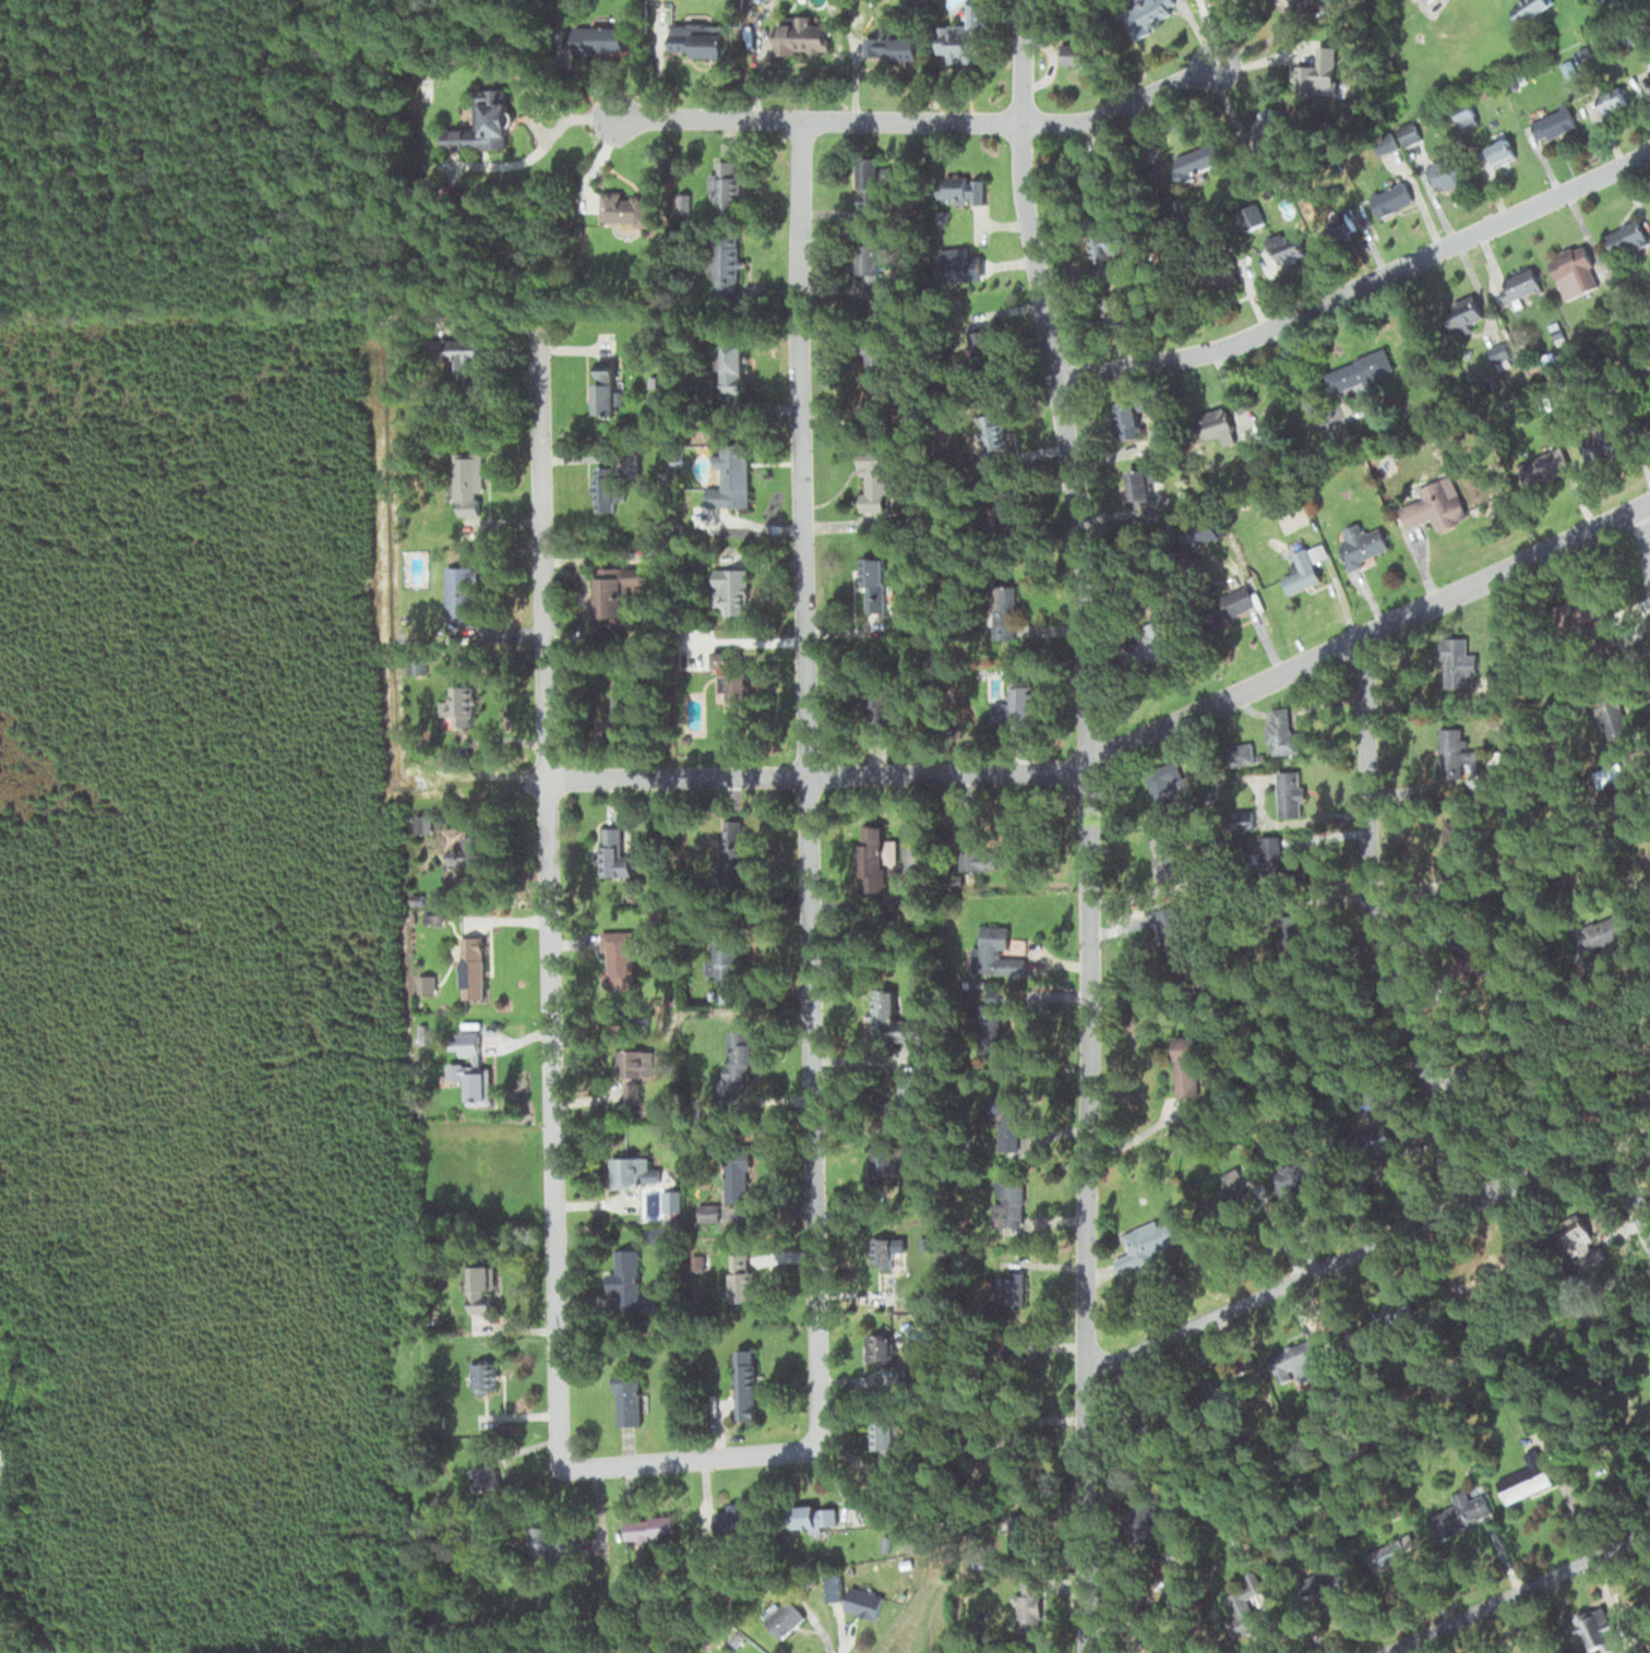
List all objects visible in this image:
building: (1424, 0)
building: (1290, 5)
building: (1527, 9)
building: (1150, 13)
building: (798, 35)
building: (965, 38)
building: (597, 39)
building: (697, 41)
building: (894, 46)
building: (1077, 53)
building: (1317, 71)
building: (1648, 72)
building: (1612, 101)
building: (1264, 121)
building: (482, 122)
road: (919, 122)
building: (1552, 123)
building: (1414, 147)
building: (1498, 149)
building: (1199, 161)
building: (1445, 172)
building: (873, 182)
building: (722, 185)
building: (949, 191)
building: (1390, 200)
building: (623, 208)
building: (1624, 238)
building: (726, 265)
building: (870, 266)
building: (1573, 272)
building: (1215, 282)
road: (1358, 283)
building: (1518, 285)
building: (1112, 311)
building: (1474, 325)
building: (464, 362)
building: (730, 368)
building: (1358, 372)
building: (605, 387)
building: (1126, 420)
building: (1210, 424)
building: (1606, 444)
building: (1250, 451)
building: (1546, 464)
building: (729, 479)
building: (465, 483)
building: (872, 483)
building: (1139, 487)
building: (603, 489)
building: (1433, 511)
building: (1290, 518)
road: (1646, 535)
building: (1361, 544)
building: (1299, 568)
building: (873, 584)
building: (615, 590)
building: (729, 590)
building: (461, 594)
building: (1602, 615)
building: (1458, 663)
building: (1500, 666)
building: (729, 683)
building: (618, 699)
building: (456, 704)
building: (1616, 723)
building: (1280, 732)
road: (1124, 751)
road: (475, 778)
road: (808, 783)
building: (1288, 792)
road: (1087, 824)
building: (1452, 846)
building: (465, 849)
building: (731, 849)
building: (613, 850)
building: (1171, 853)
building: (874, 860)
road: (550, 891)
road: (1372, 927)
building: (1607, 929)
building: (996, 953)
building: (615, 958)
building: (725, 961)
building: (470, 967)
building: (888, 1017)
building: (984, 1027)
road: (1544, 1037)
building: (734, 1059)
building: (1183, 1067)
building: (467, 1074)
building: (622, 1088)
building: (1005, 1117)
building: (1383, 1139)
building: (882, 1165)
building: (621, 1169)
building: (1298, 1174)
building: (734, 1177)
road: (1629, 1183)
building: (1227, 1191)
building: (1006, 1198)
building: (1146, 1242)
building: (880, 1249)
road: (1342, 1257)
building: (739, 1275)
building: (624, 1278)
building: (1007, 1287)
building: (478, 1290)
building: (877, 1346)
building: (1299, 1362)
building: (477, 1375)
building: (904, 1381)
building: (742, 1384)
building: (625, 1401)
building: (882, 1445)
road: (687, 1458)
building: (481, 1474)
building: (1525, 1478)
building: (816, 1516)
building: (1459, 1516)
building: (733, 1520)
building: (655, 1525)
building: (550, 1541)
building: (1318, 1590)
road: (1525, 1600)
building: (861, 1602)
building: (1241, 1605)
building: (1026, 1615)
building: (781, 1617)
building: (1594, 1627)
building: (1631, 1651)
building: (733, 1652)

